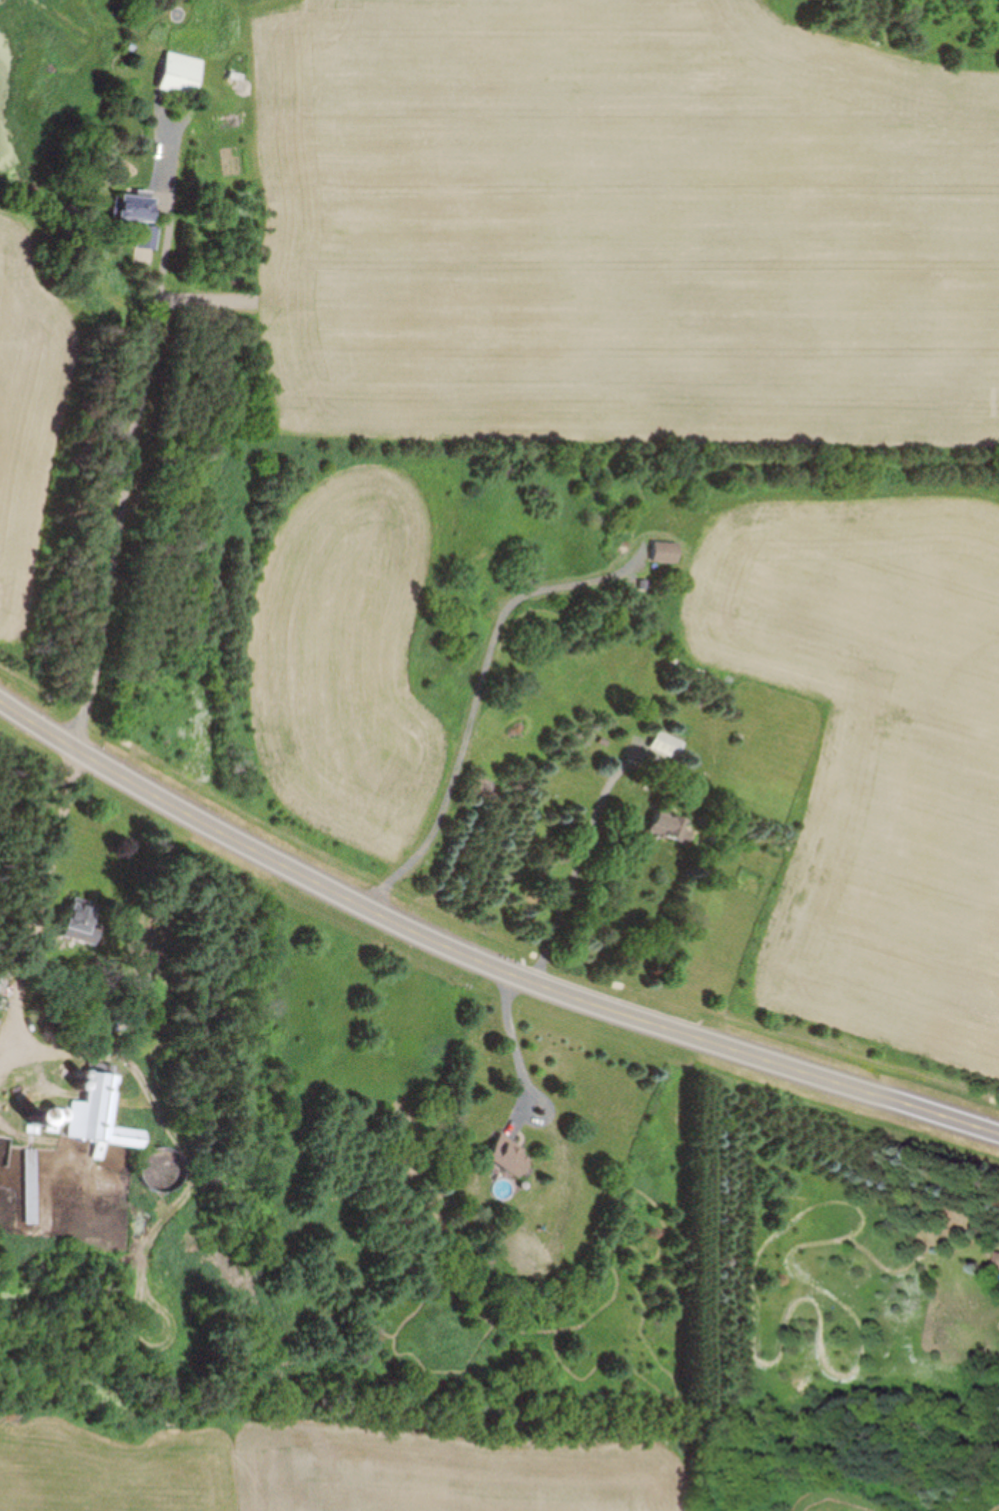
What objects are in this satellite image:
building: (180, 73)
building: (136, 215)
building: (663, 551)
road: (107, 612)
road: (474, 698)
building: (666, 742)
building: (668, 826)
road: (582, 863)
road: (482, 956)
building: (2, 985)
road: (515, 1043)
building: (98, 1116)
building: (52, 1119)
building: (28, 1120)
building: (5, 1148)
building: (506, 1156)
building: (31, 1185)
building: (998, 1263)

